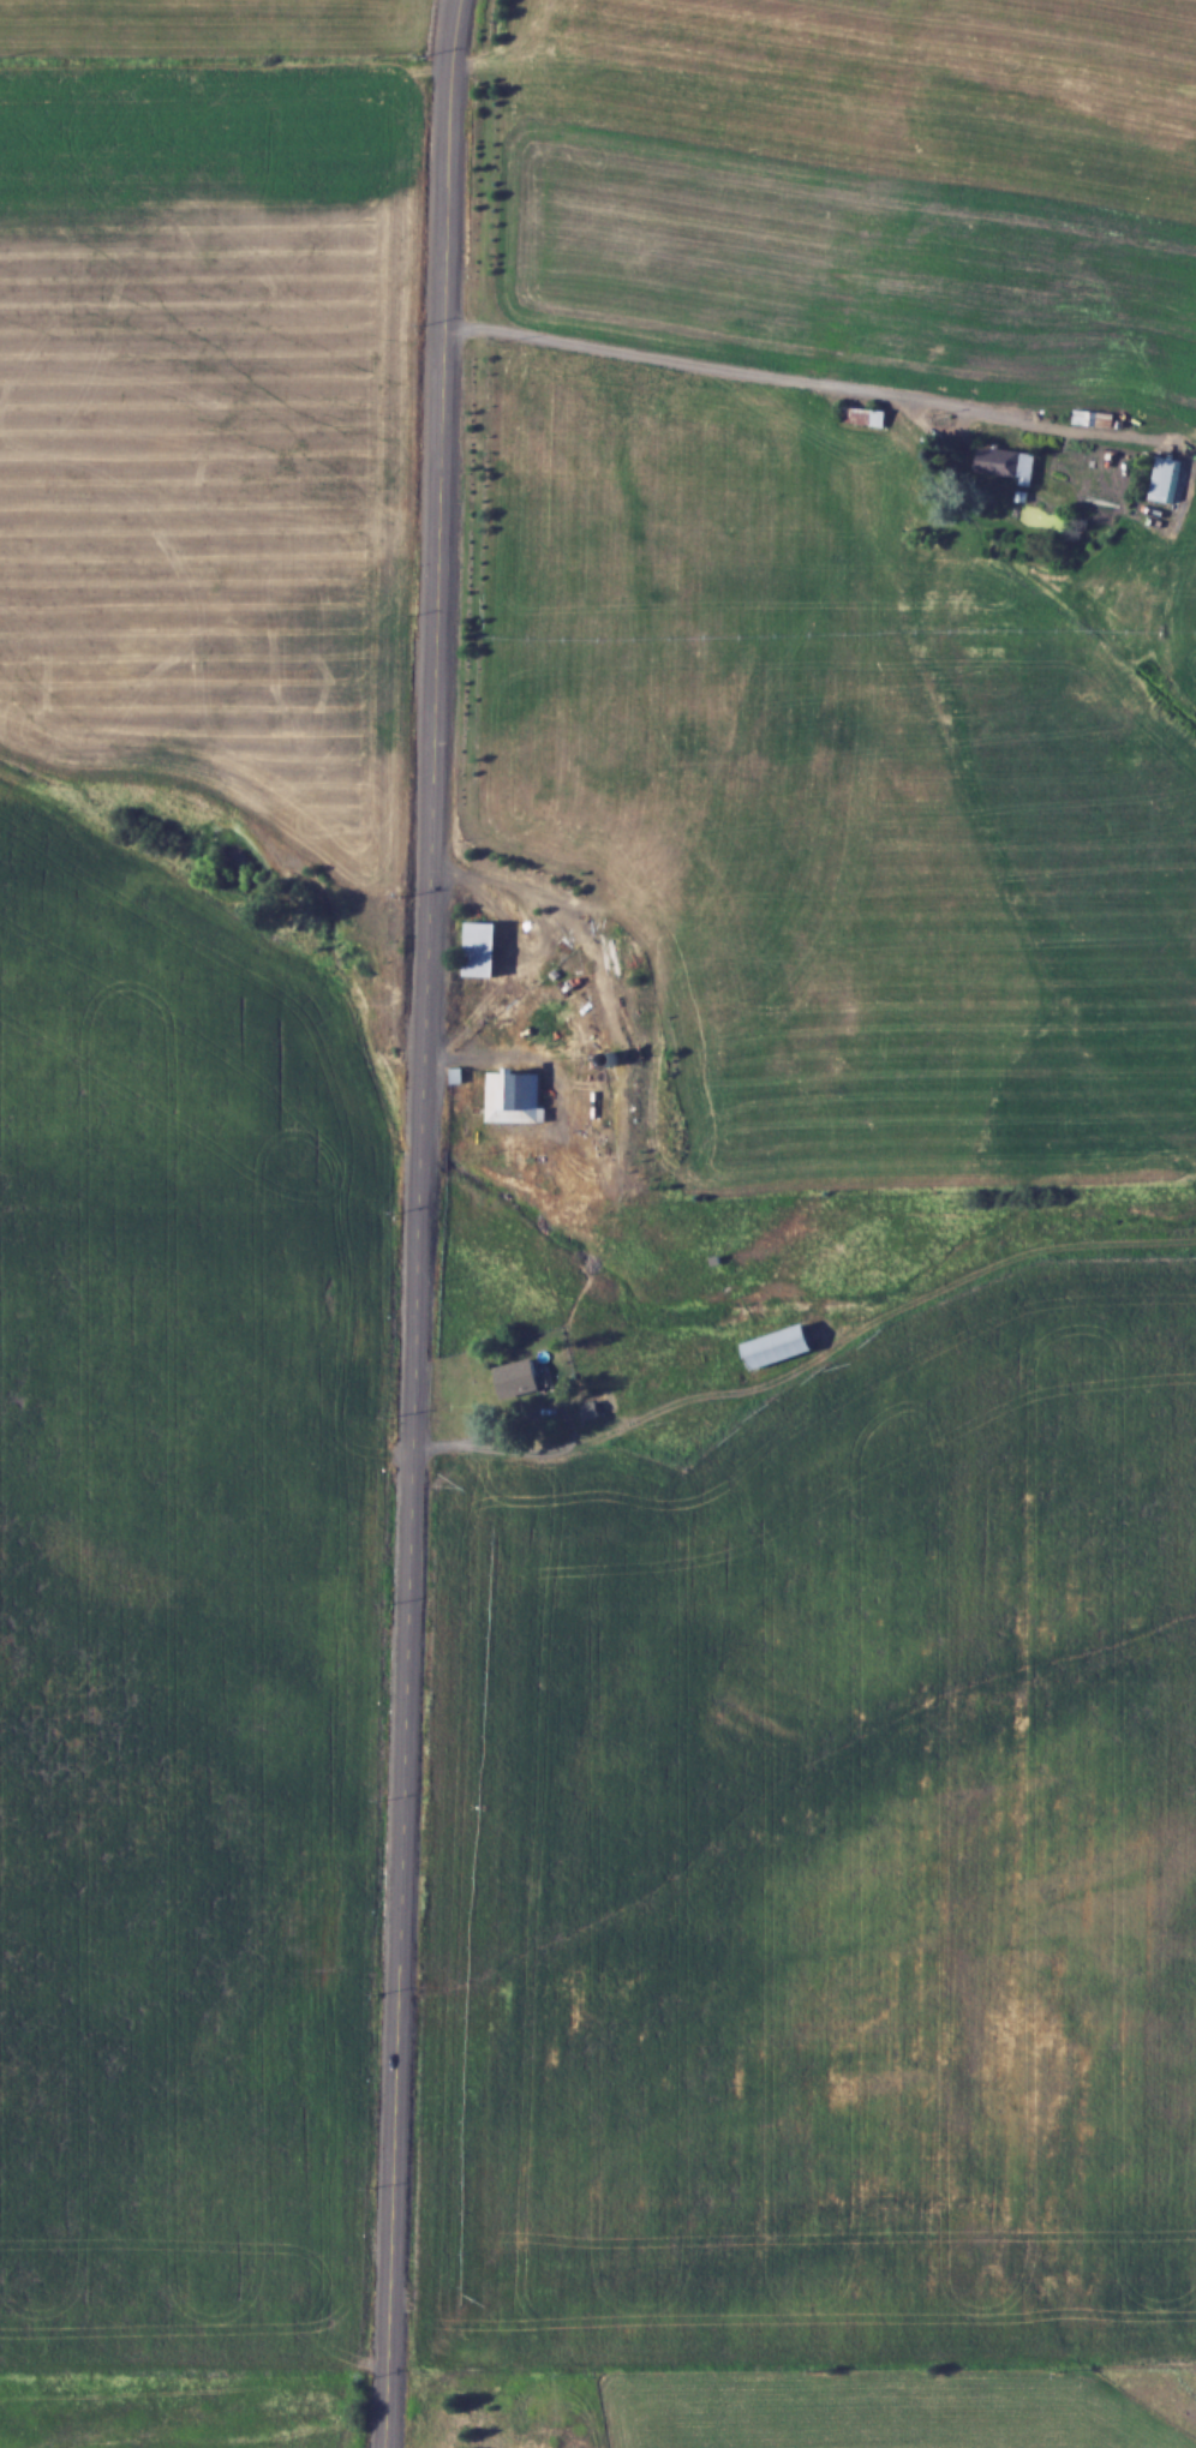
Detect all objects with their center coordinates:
road: (738, 367)
building: (866, 415)
building: (1094, 418)
building: (1009, 462)
building: (1167, 481)
building: (480, 947)
building: (515, 1096)
road: (419, 1223)
road: (881, 1327)
building: (779, 1347)
building: (519, 1378)
road: (506, 1453)
building: (452, 1576)

